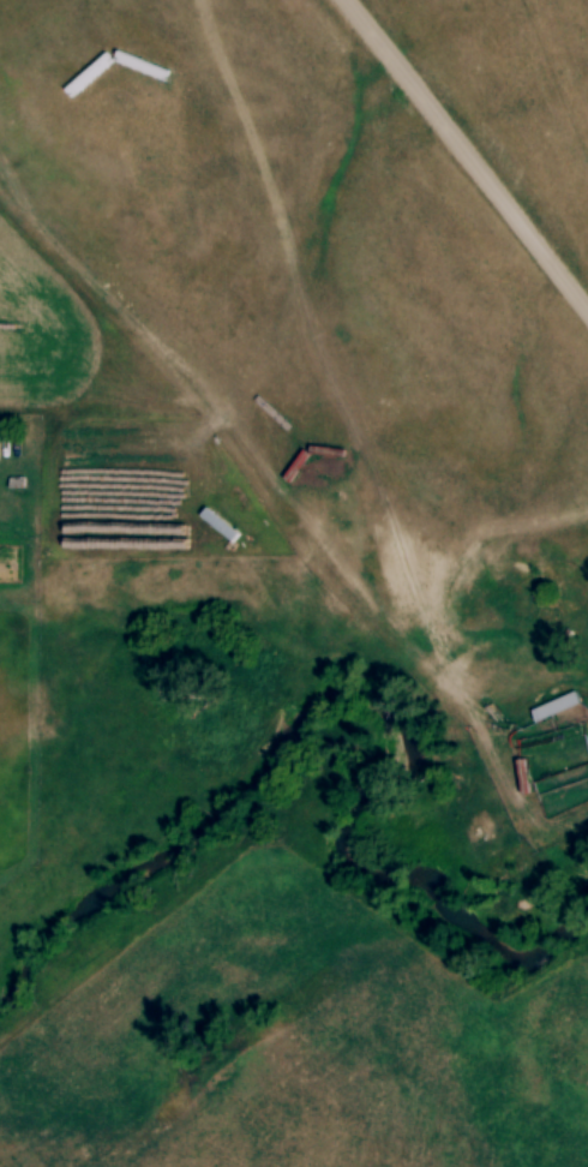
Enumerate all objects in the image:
road: (462, 160)
building: (238, 523)
building: (224, 535)
building: (554, 713)

